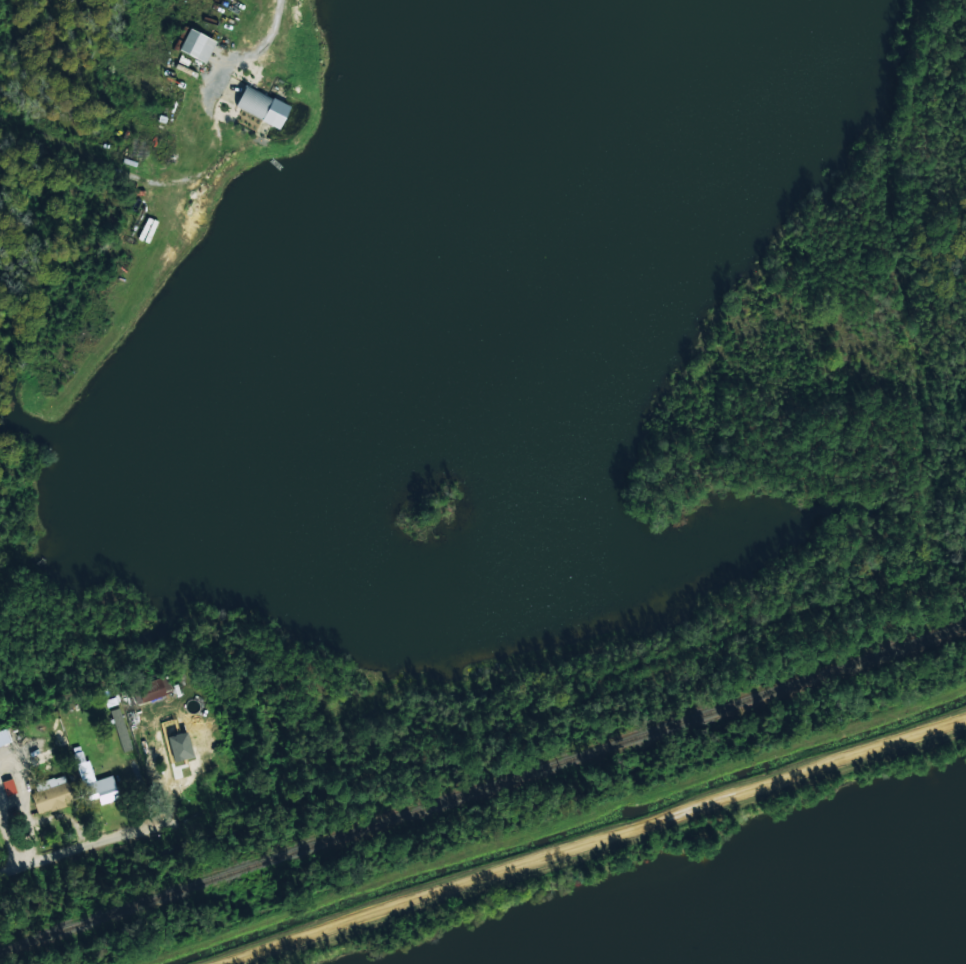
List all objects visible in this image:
building: (196, 45)
building: (262, 106)
road: (74, 143)
building: (152, 689)
building: (120, 729)
road: (432, 730)
building: (189, 738)
building: (95, 782)
building: (8, 786)
railway: (483, 787)
building: (51, 793)

